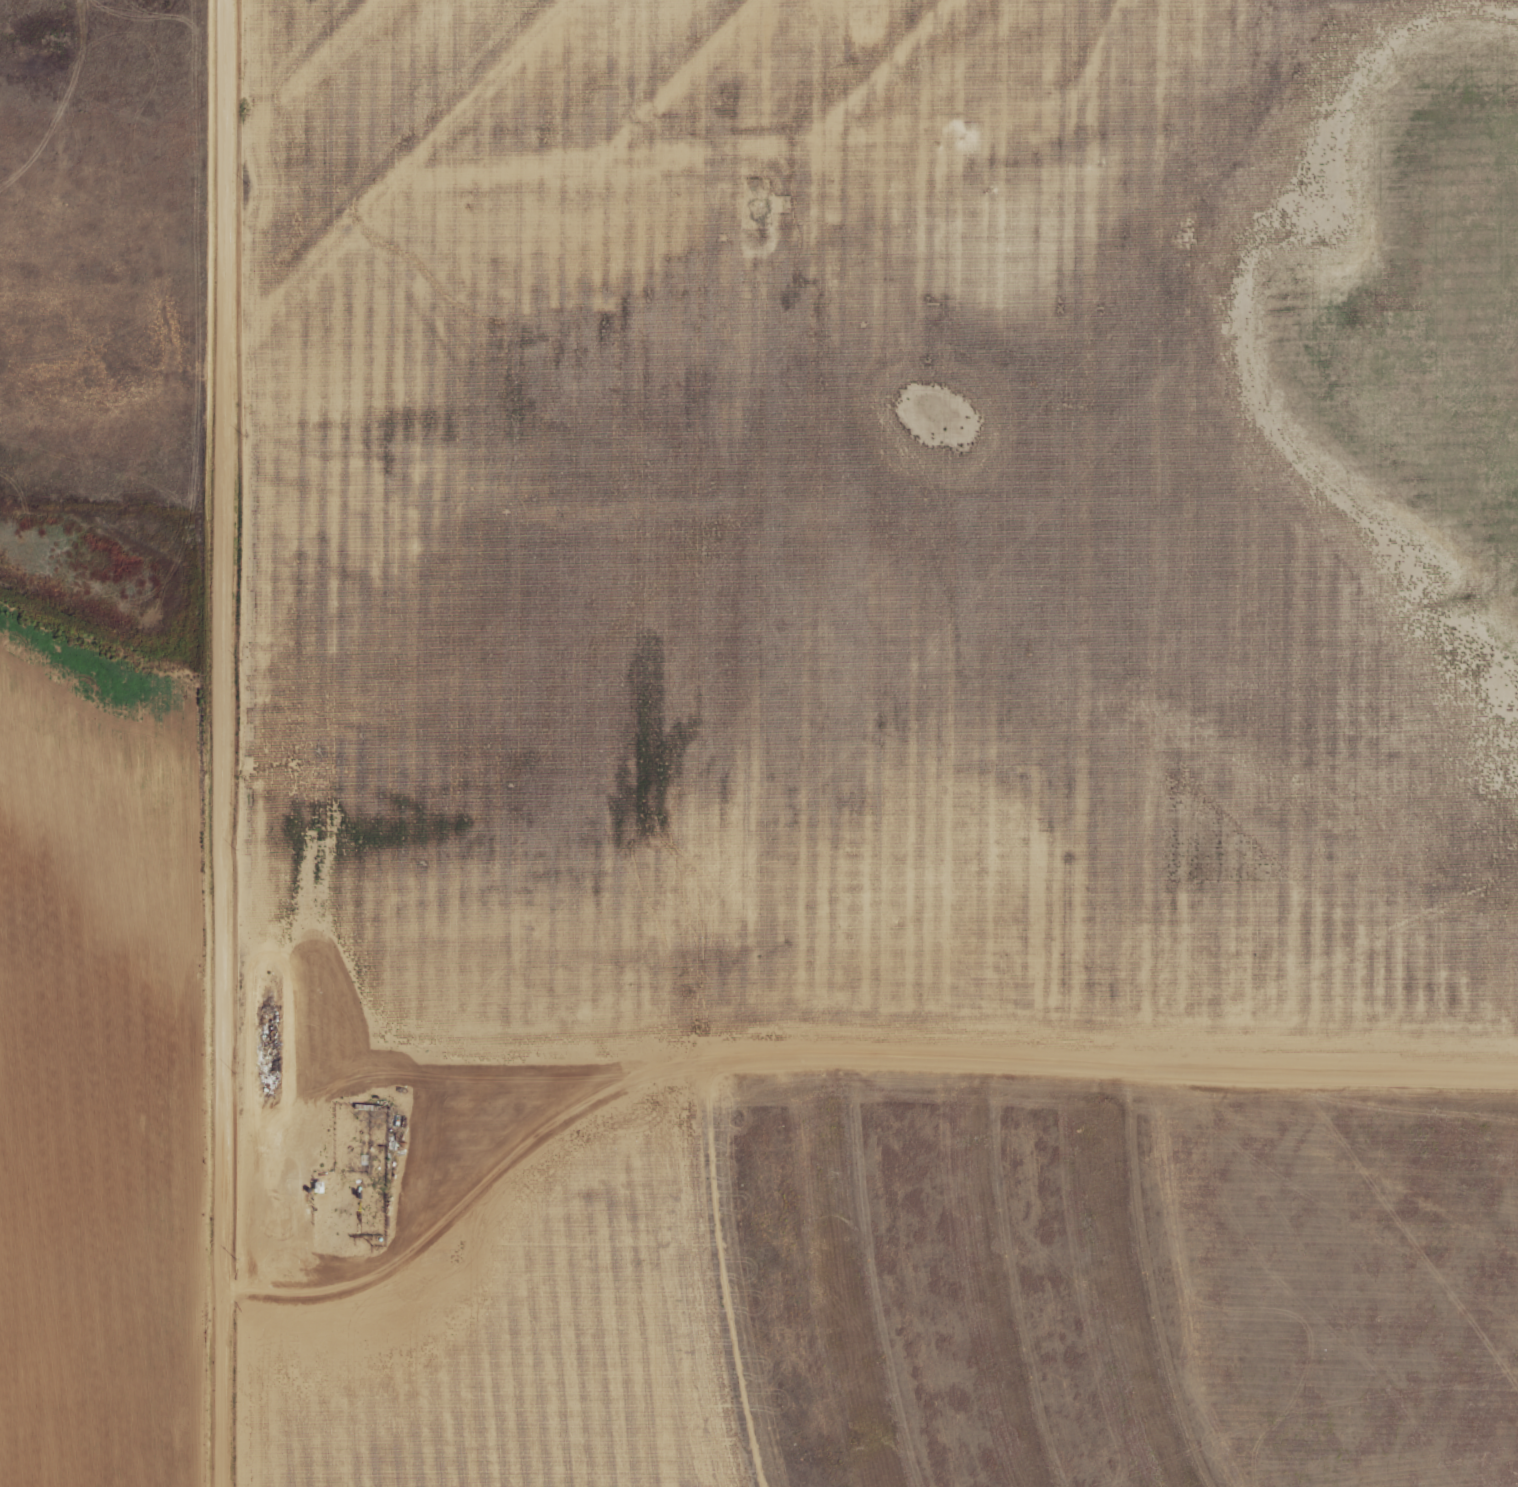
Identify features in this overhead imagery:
road: (229, 743)
building: (279, 1225)

